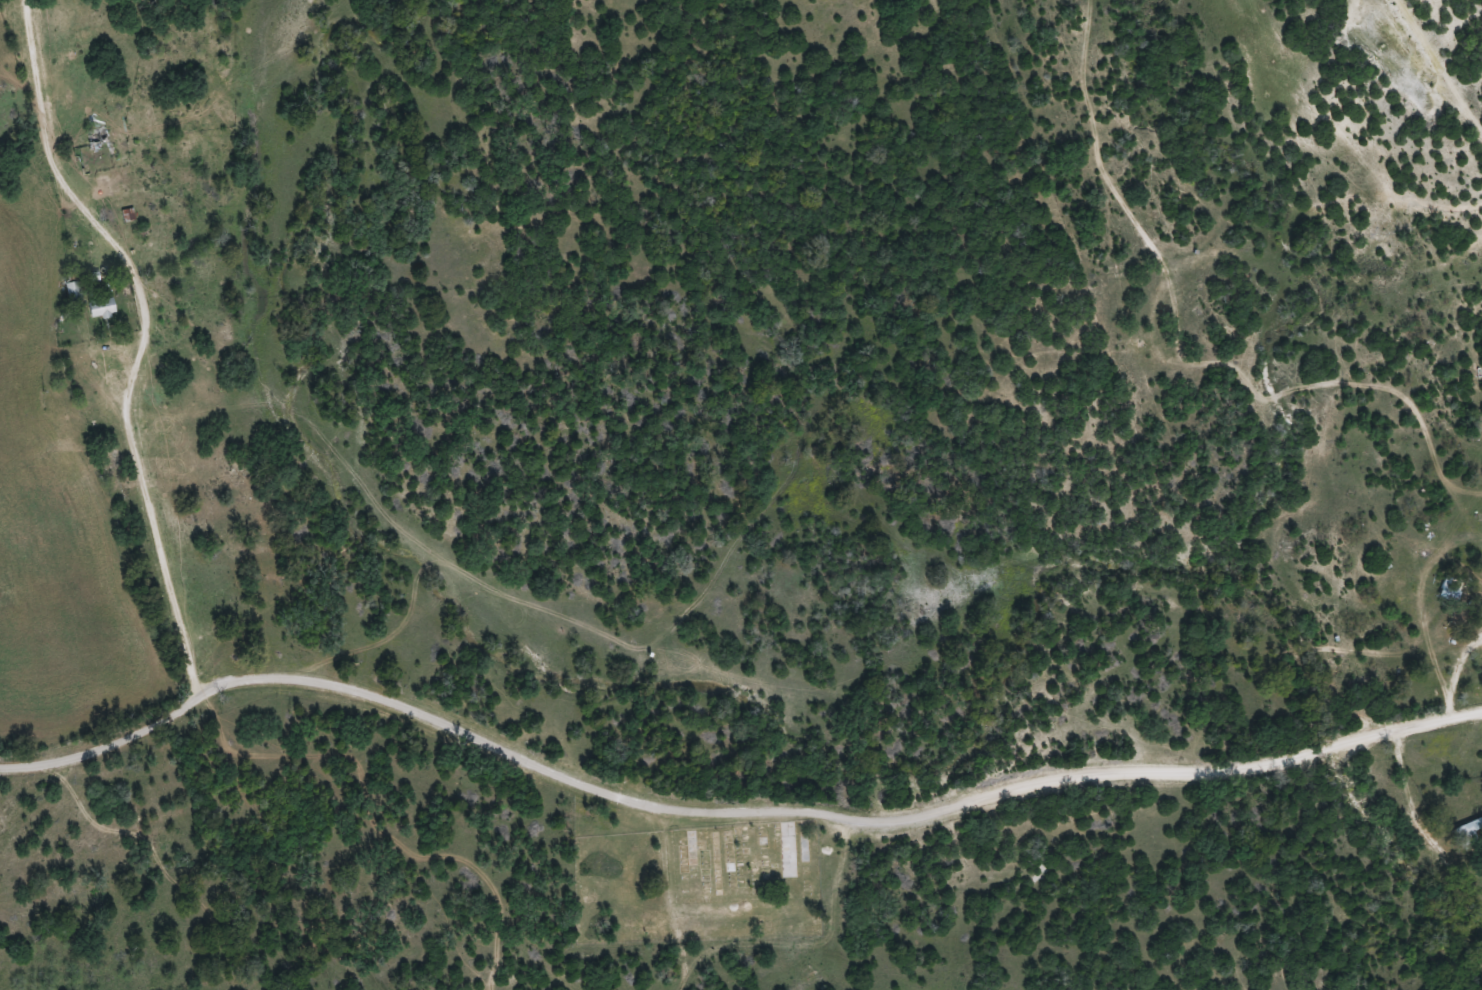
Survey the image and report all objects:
building: (97, 143)
road: (1177, 246)
building: (101, 308)
road: (116, 341)
building: (1461, 615)
road: (727, 796)
building: (1470, 831)
park: (746, 861)

